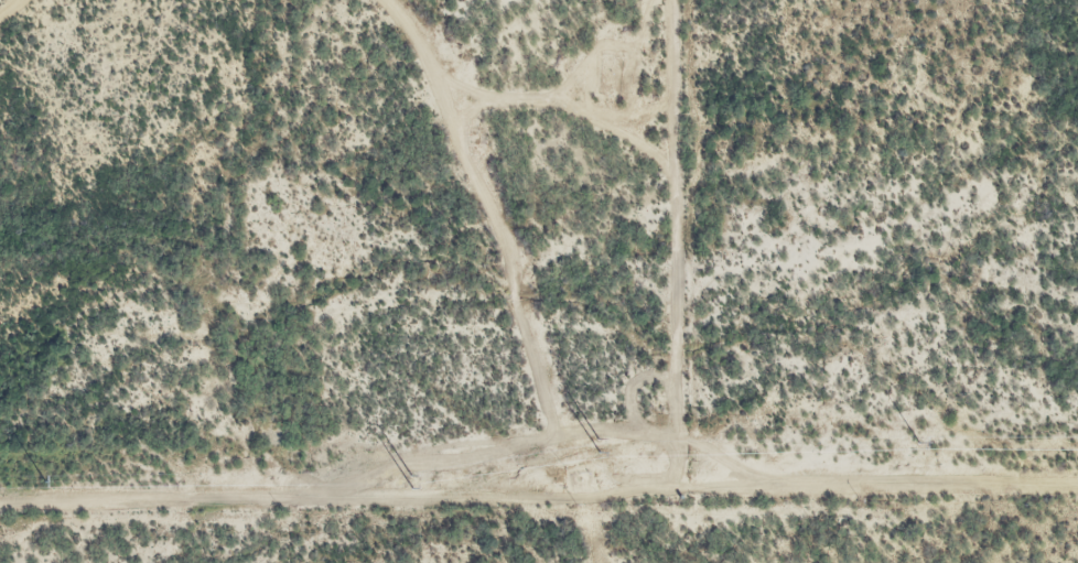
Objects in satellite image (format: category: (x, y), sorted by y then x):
power tower: (600, 440)
power tower: (919, 443)
power tower: (410, 475)
power tower: (45, 480)

